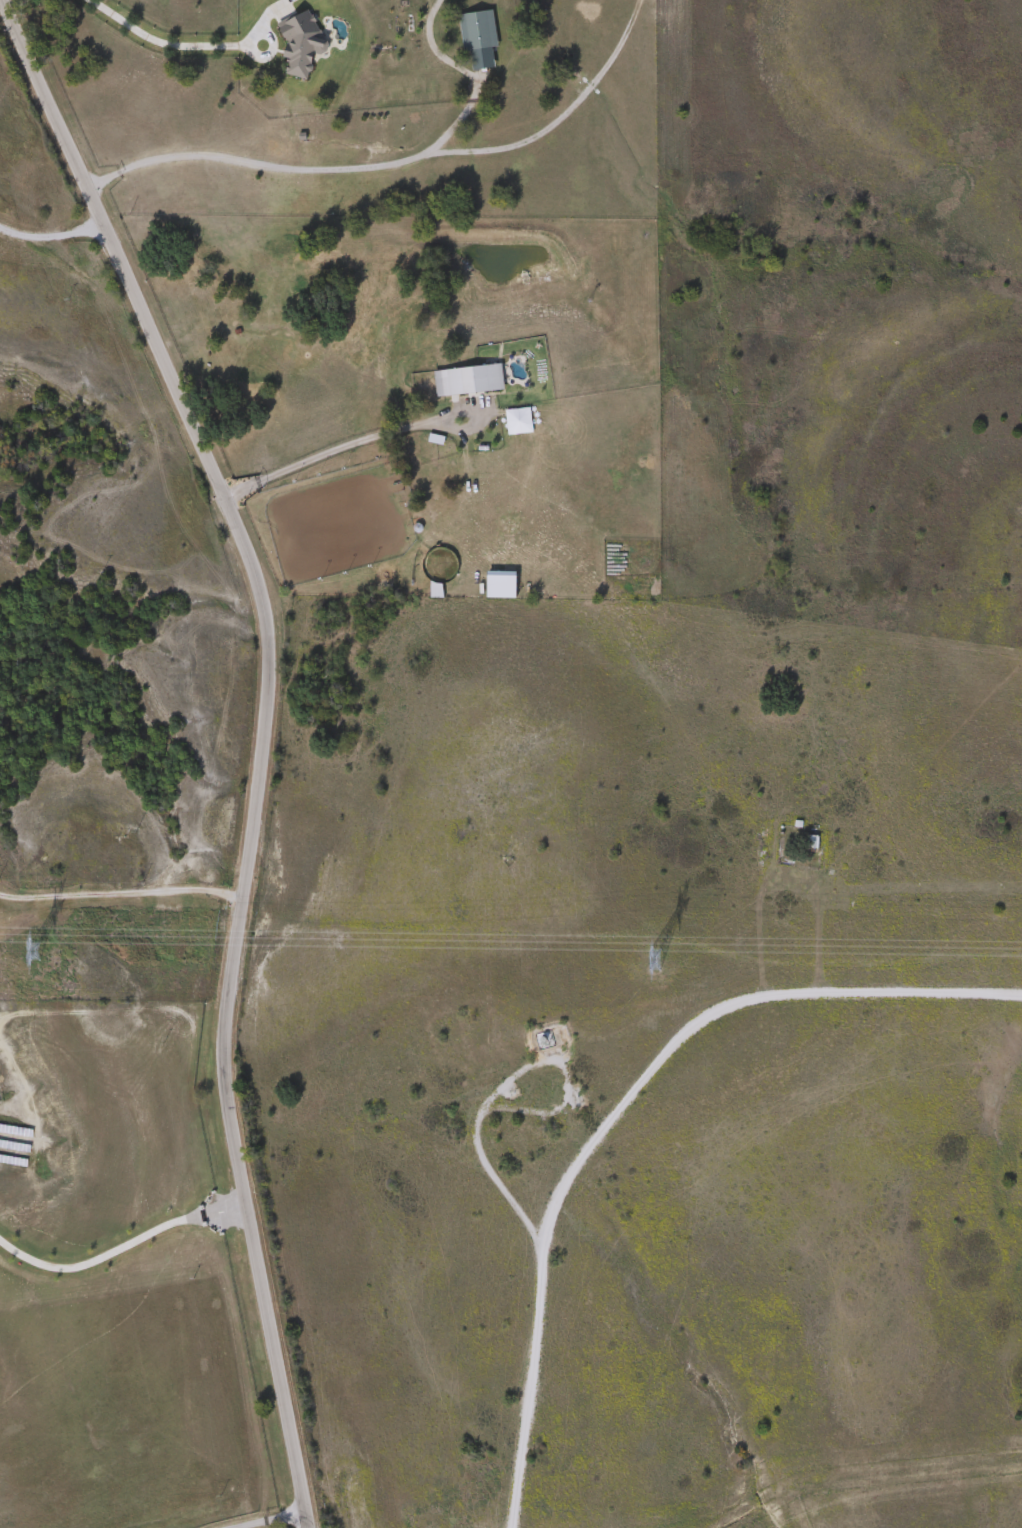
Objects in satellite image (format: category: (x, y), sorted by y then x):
building: (481, 31)
building: (302, 41)
road: (160, 43)
road: (268, 43)
road: (392, 163)
road: (50, 237)
building: (474, 381)
road: (344, 444)
road: (244, 743)
road: (119, 893)
power tower: (35, 950)
power tower: (648, 960)
road: (882, 992)
road: (648, 1067)
road: (119, 1243)
road: (528, 1339)
road: (266, 1518)

